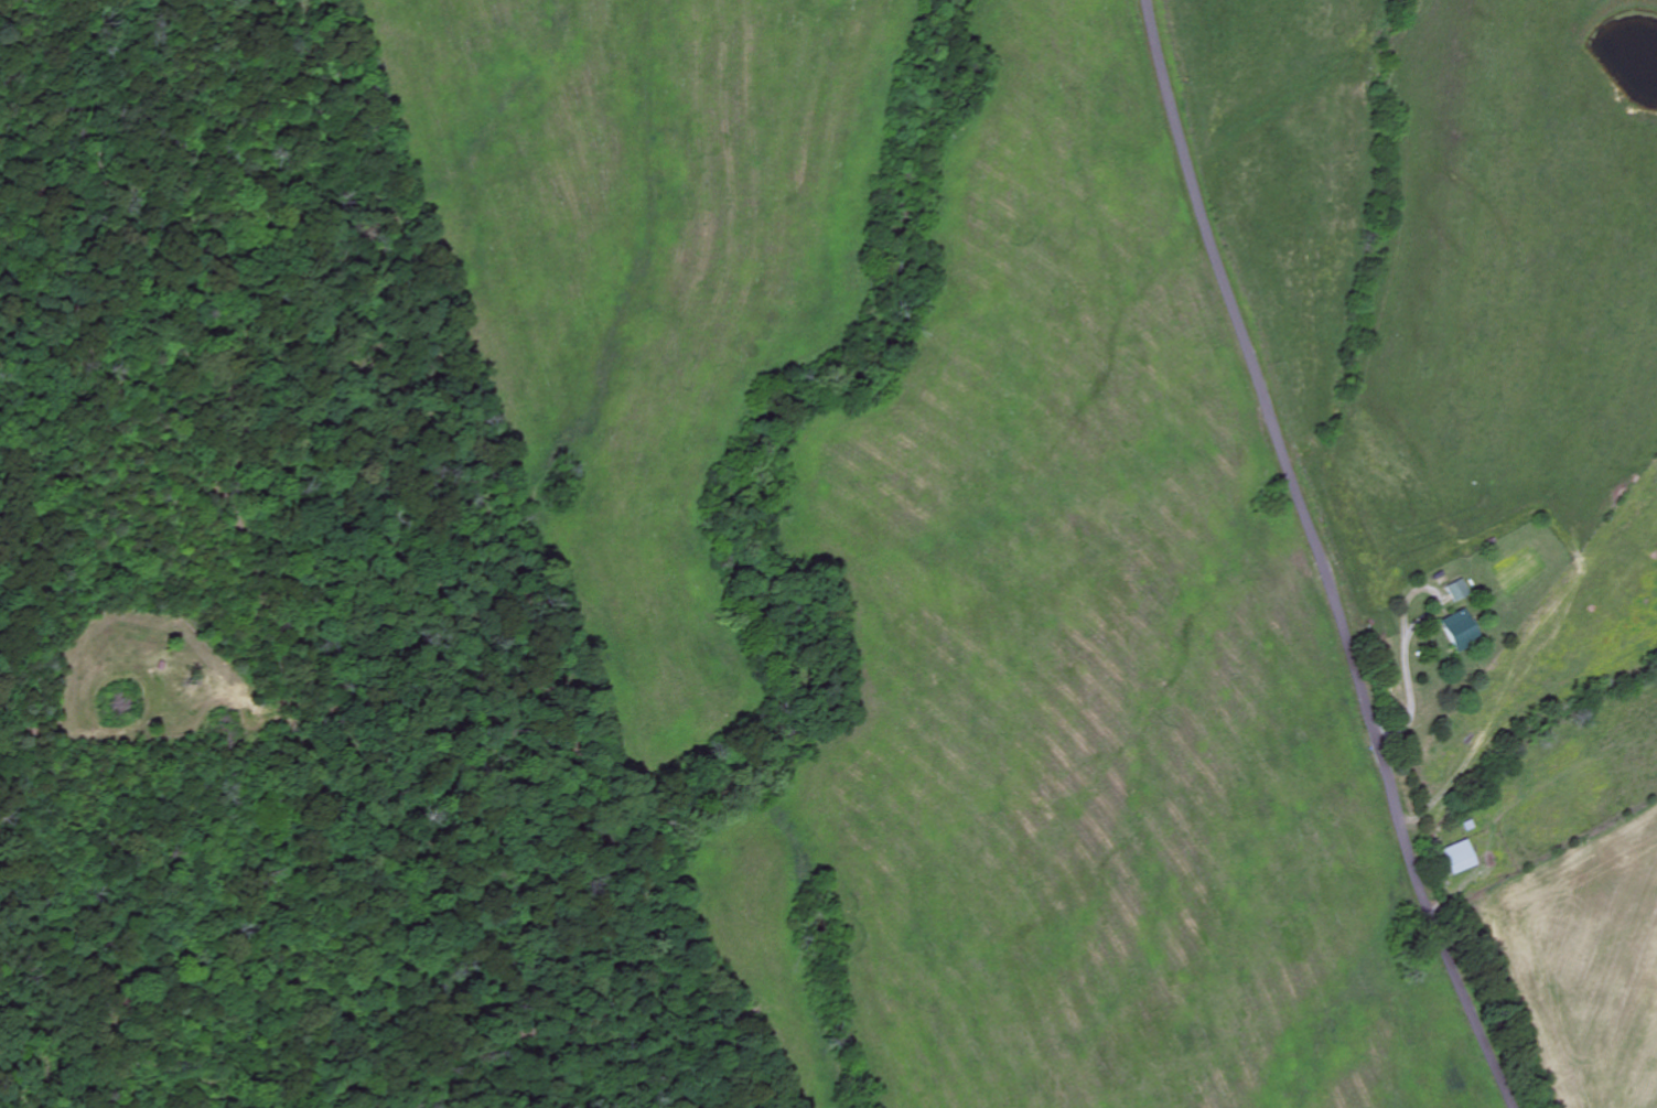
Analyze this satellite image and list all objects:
road: (1322, 557)
building: (1459, 591)
building: (1461, 631)
building: (1461, 858)

